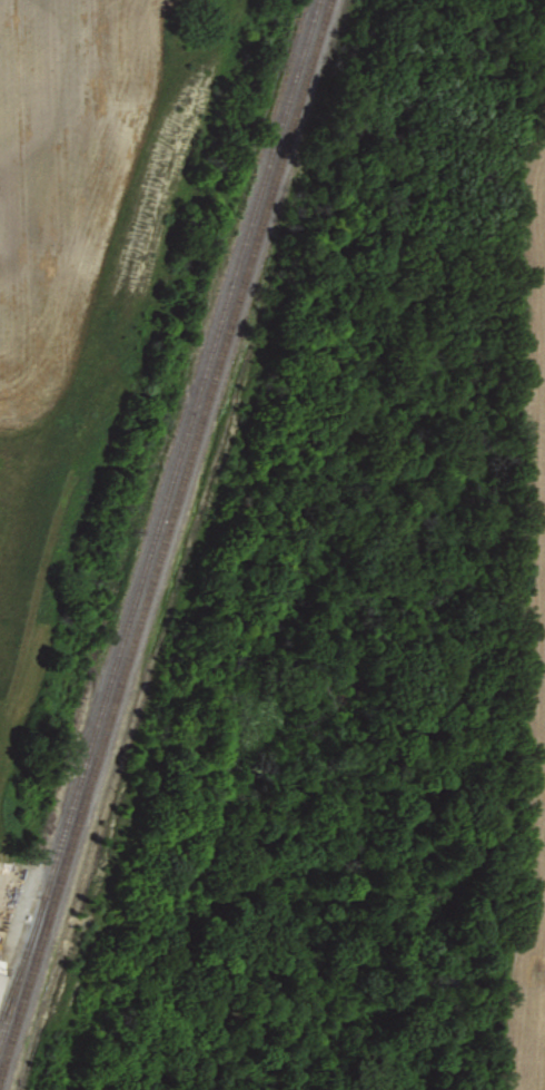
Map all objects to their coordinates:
railway: (161, 529)
building: (1, 974)

